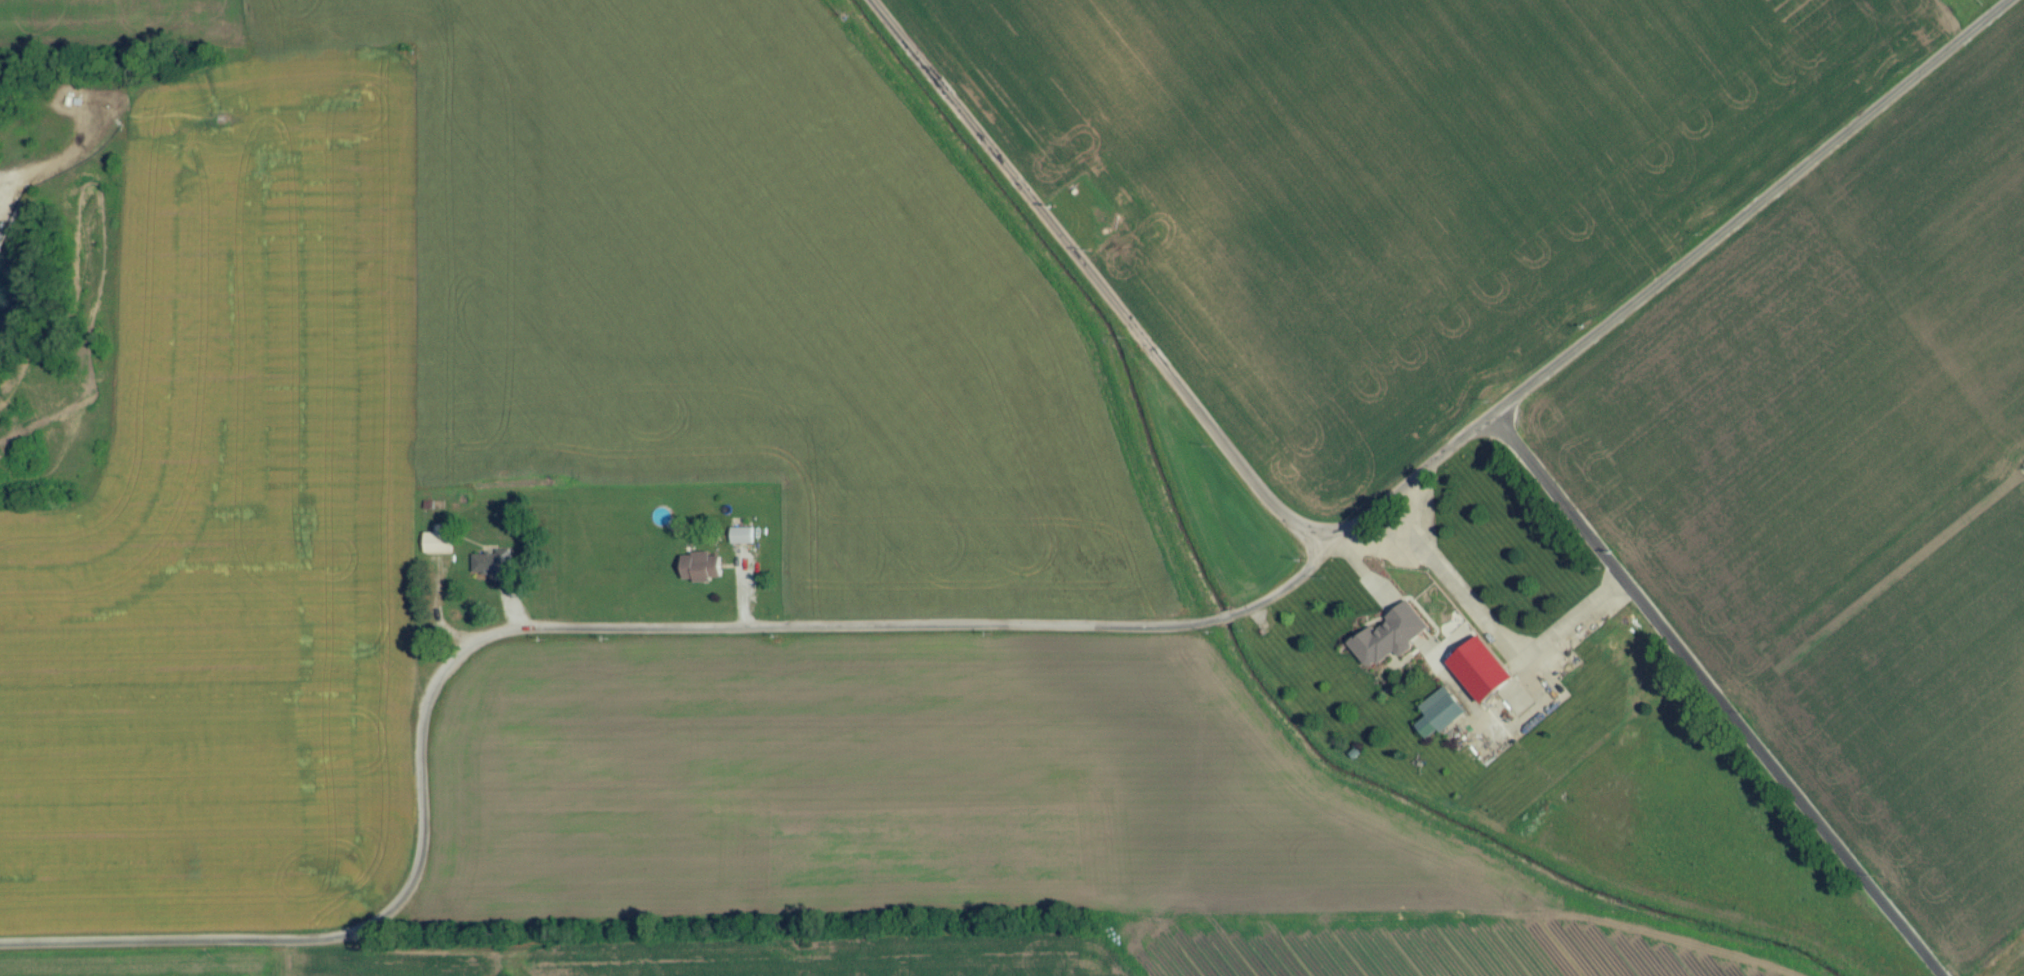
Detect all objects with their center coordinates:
road: (1089, 280)
building: (742, 543)
building: (439, 548)
building: (491, 570)
building: (701, 574)
road: (1011, 631)
building: (1389, 659)
road: (1745, 706)
building: (1439, 720)

